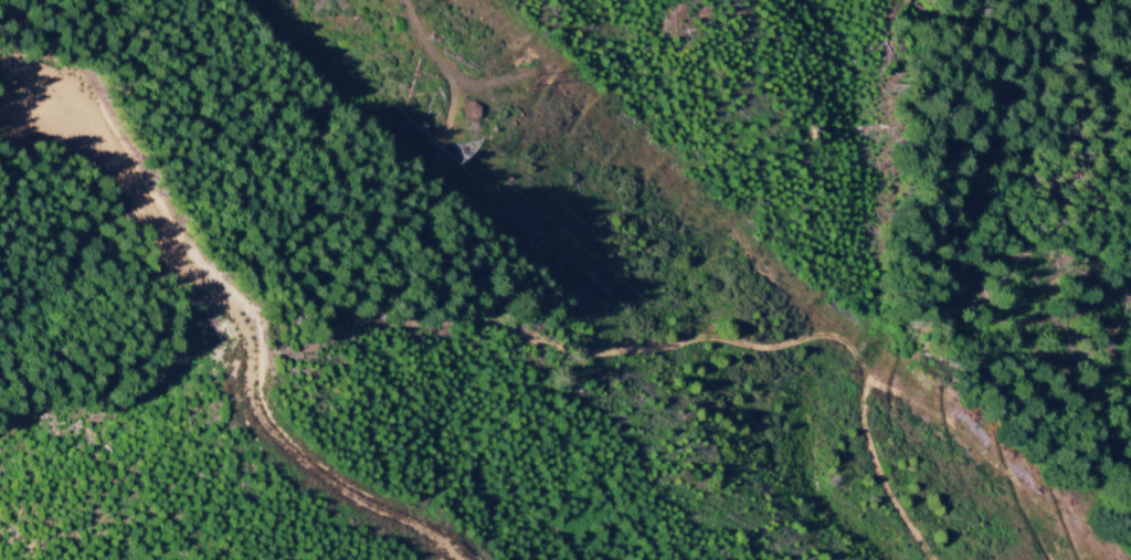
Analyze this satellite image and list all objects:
power tower: (528, 83)
road: (728, 427)

